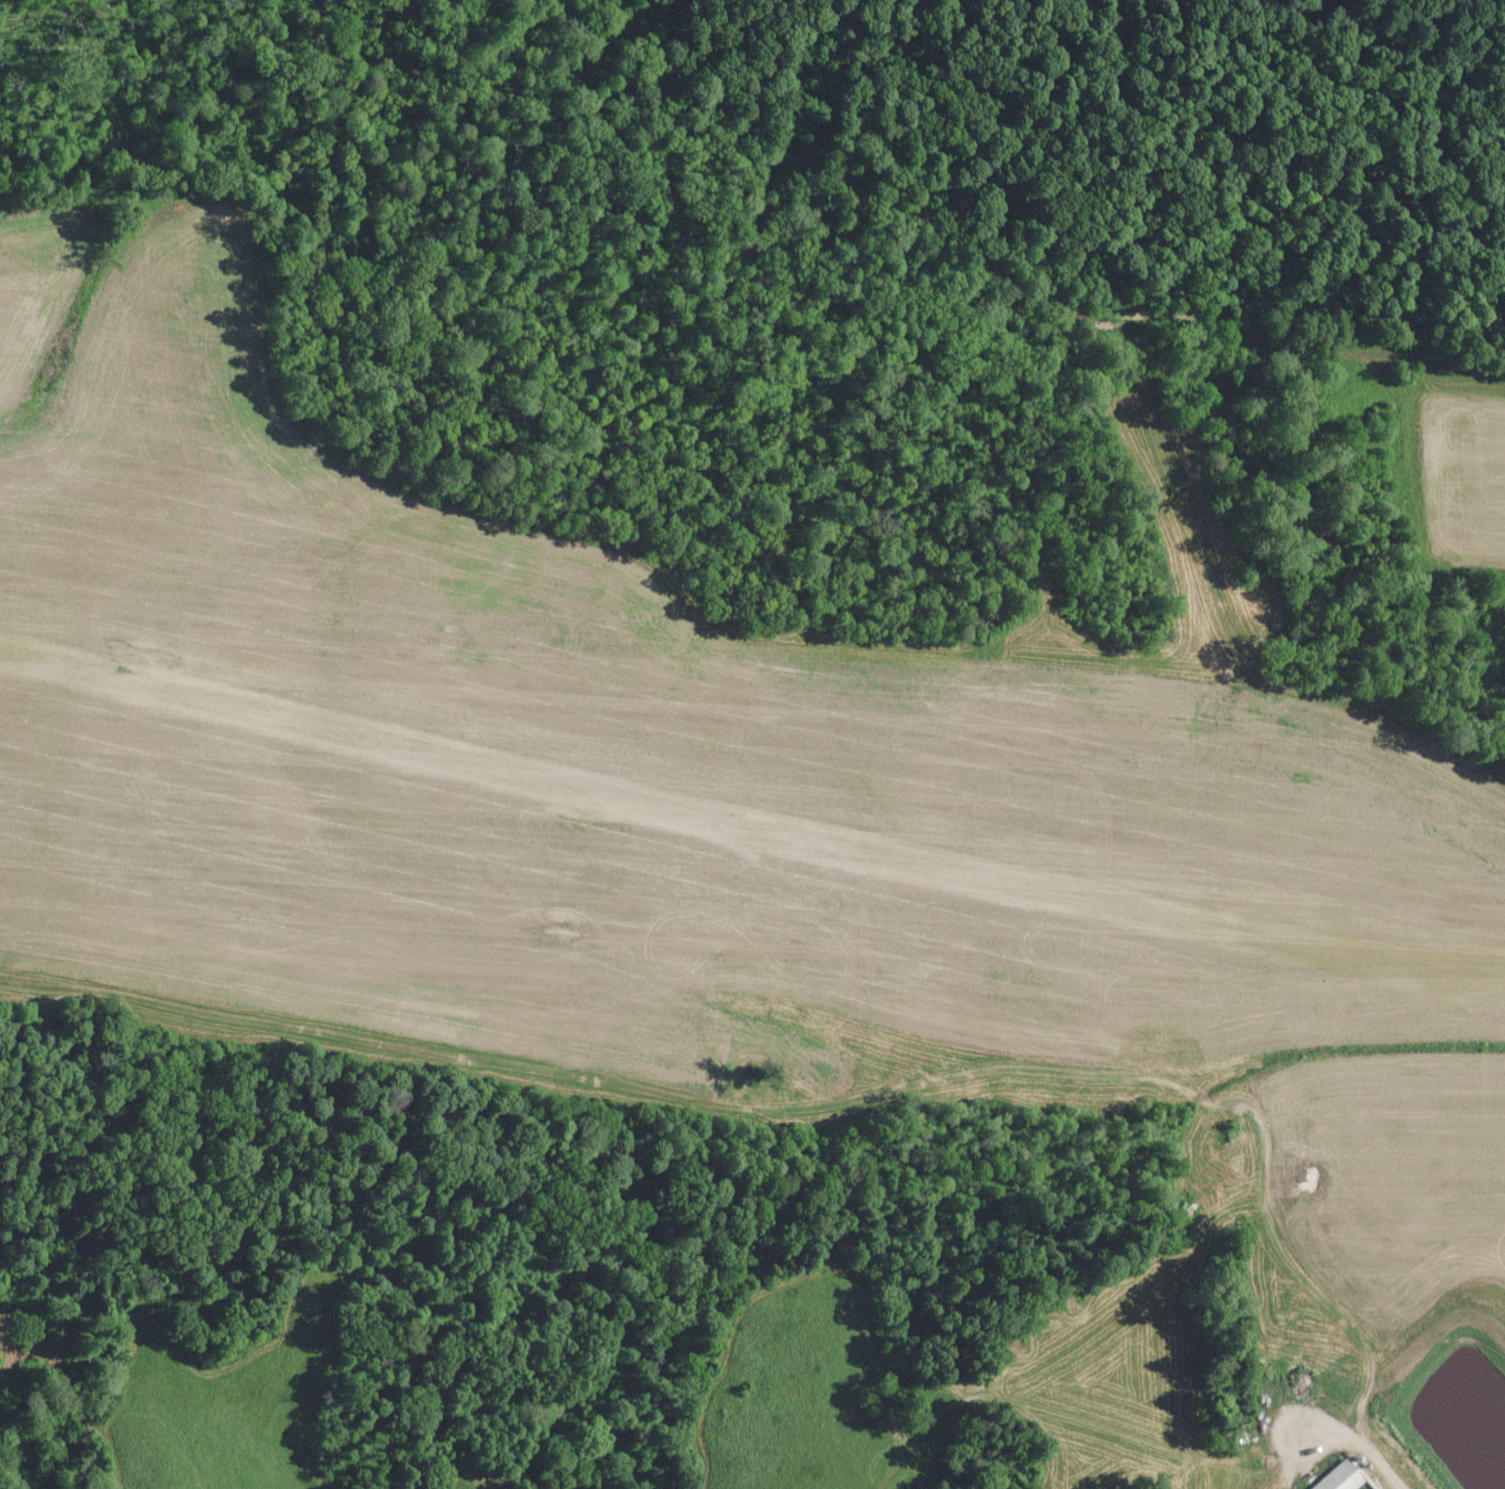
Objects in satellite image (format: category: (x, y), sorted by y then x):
building: (1339, 1478)

